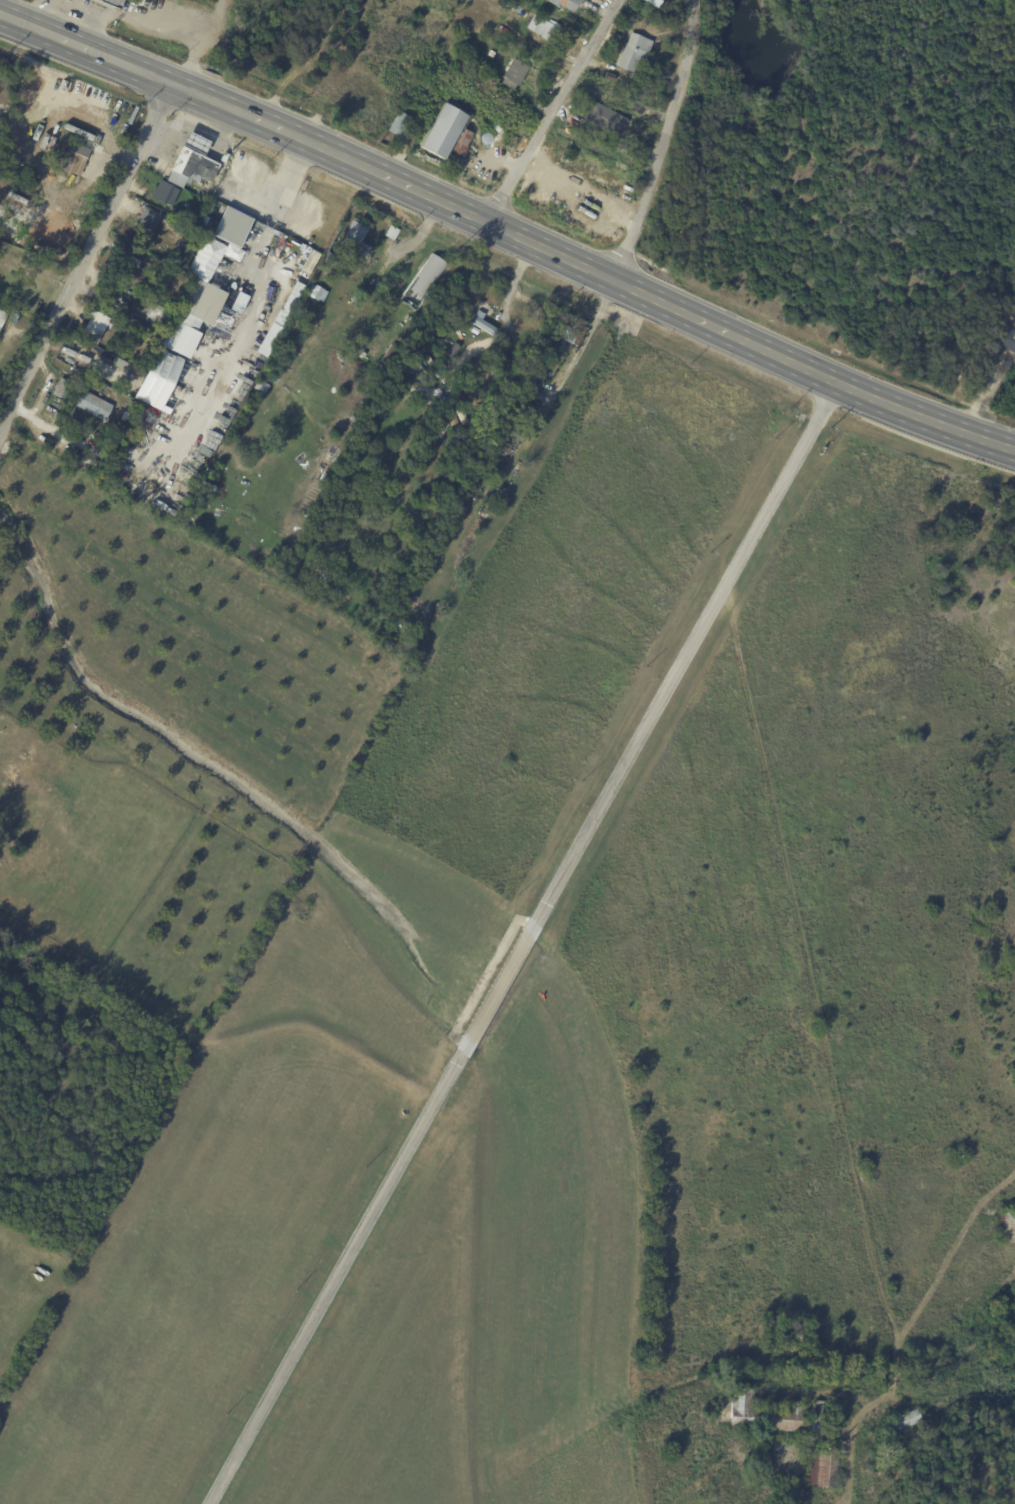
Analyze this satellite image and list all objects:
building: (493, 1)
building: (113, 3)
building: (652, 3)
building: (563, 4)
road: (73, 6)
road: (175, 21)
building: (549, 31)
building: (632, 53)
building: (490, 54)
building: (513, 75)
building: (608, 78)
building: (426, 94)
building: (638, 113)
road: (555, 114)
building: (604, 120)
building: (401, 125)
building: (446, 135)
building: (196, 142)
road: (661, 143)
building: (75, 158)
building: (191, 167)
road: (290, 170)
building: (165, 193)
building: (148, 220)
building: (393, 232)
road: (505, 232)
building: (356, 239)
building: (190, 249)
road: (82, 251)
building: (309, 261)
building: (125, 267)
building: (208, 277)
building: (180, 278)
building: (424, 281)
building: (297, 290)
building: (316, 292)
building: (156, 314)
building: (125, 316)
building: (2, 317)
building: (481, 323)
building: (143, 325)
building: (94, 327)
building: (0, 329)
building: (572, 334)
building: (1007, 337)
building: (453, 350)
road: (578, 352)
building: (415, 362)
building: (953, 371)
building: (63, 389)
building: (531, 393)
building: (132, 404)
building: (94, 406)
building: (57, 416)
building: (239, 418)
building: (352, 418)
building: (351, 440)
building: (504, 446)
building: (51, 767)
building: (9, 829)
building: (29, 841)
building: (18, 842)
building: (17, 871)
road: (526, 944)
building: (1006, 1226)
building: (776, 1337)
building: (801, 1338)
building: (775, 1414)
building: (905, 1421)
building: (823, 1468)

